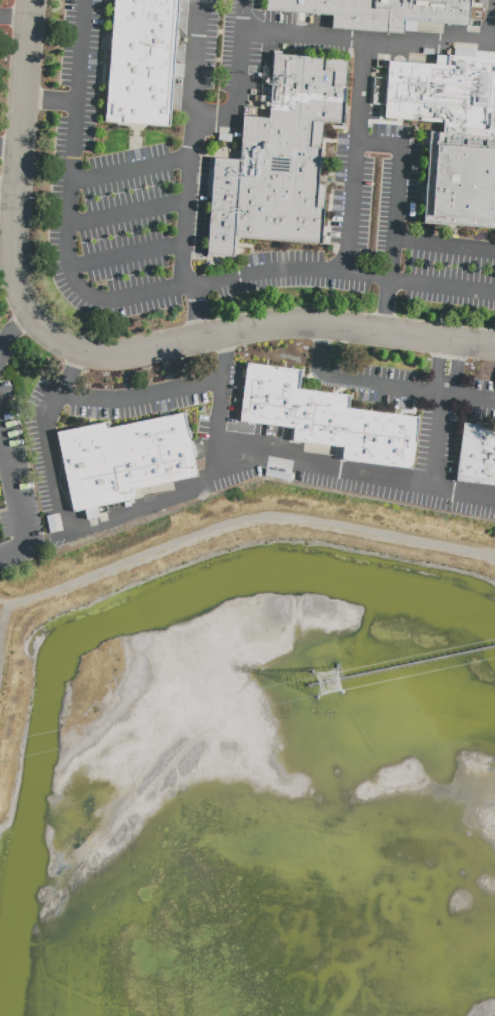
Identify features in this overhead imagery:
building: (374, 12)
road: (14, 16)
road: (492, 24)
road: (369, 40)
road: (242, 58)
building: (141, 61)
road: (48, 100)
road: (215, 115)
building: (452, 135)
road: (378, 141)
road: (190, 144)
road: (9, 147)
building: (279, 154)
road: (352, 156)
road: (129, 167)
road: (19, 178)
road: (9, 186)
road: (126, 211)
road: (392, 238)
road: (443, 247)
road: (125, 254)
road: (141, 296)
road: (194, 313)
road: (15, 327)
road: (275, 328)
road: (437, 366)
road: (457, 369)
road: (385, 385)
road: (141, 394)
road: (218, 409)
building: (324, 417)
road: (46, 438)
road: (437, 439)
building: (477, 453)
building: (121, 457)
road: (354, 471)
road: (12, 493)
road: (139, 509)
road: (239, 519)
power tower: (329, 682)

